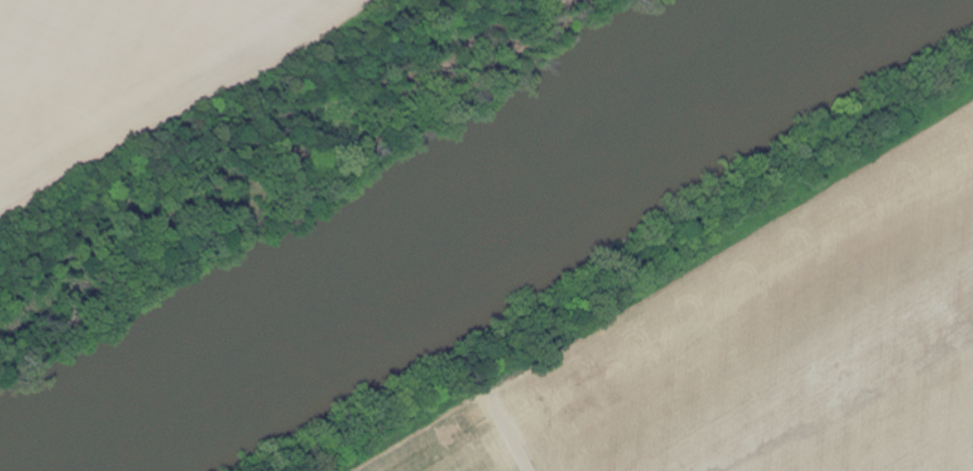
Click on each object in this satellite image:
river: (400, 232)
road: (528, 467)

